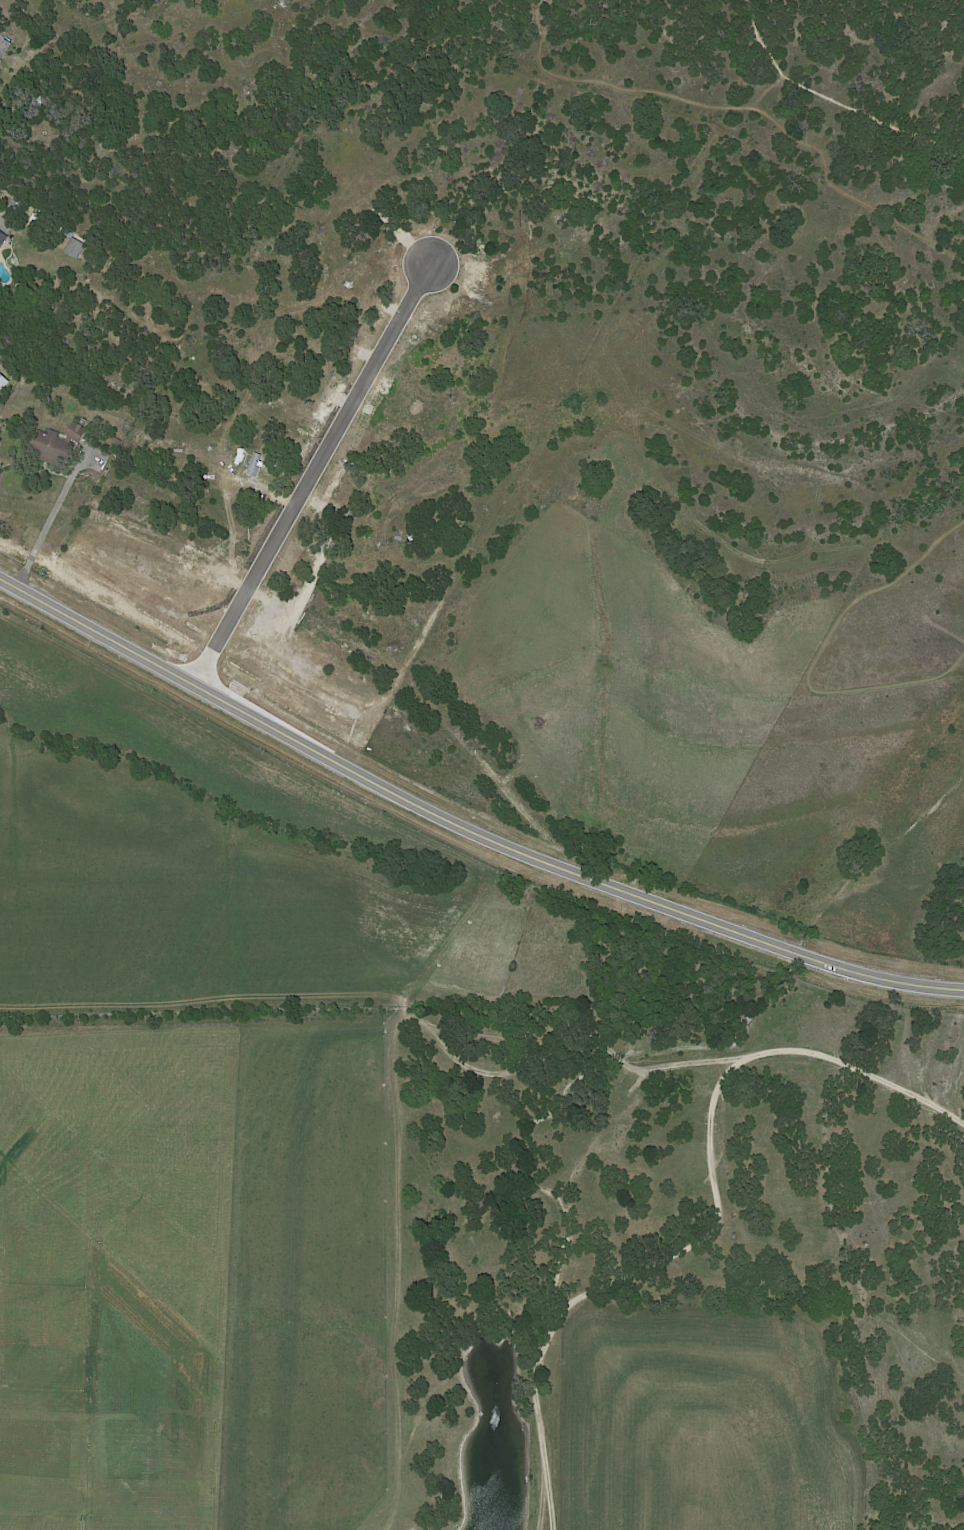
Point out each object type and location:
building: (0, 60)
park: (715, 97)
building: (37, 99)
road: (831, 100)
road: (742, 106)
building: (2, 238)
building: (74, 247)
building: (4, 371)
building: (118, 441)
building: (55, 446)
road: (310, 475)
building: (318, 489)
road: (46, 523)
road: (284, 630)
road: (813, 655)
park: (860, 765)
road: (465, 820)

